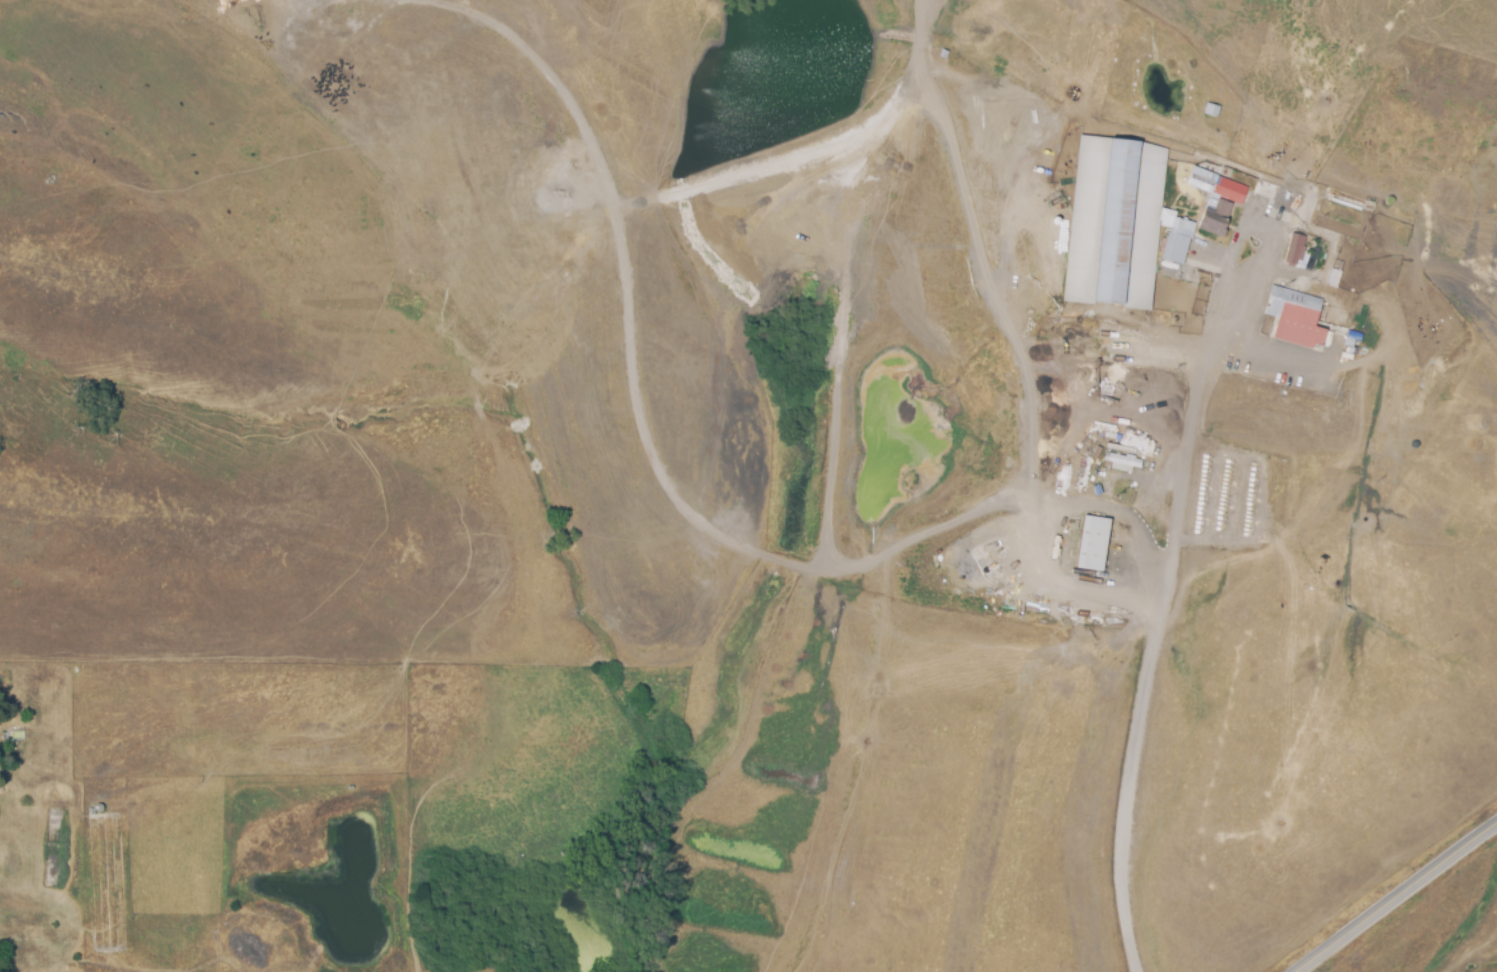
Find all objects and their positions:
building: (1211, 111)
building: (1265, 192)
building: (1221, 205)
building: (1114, 224)
building: (1175, 246)
building: (1294, 250)
building: (1336, 275)
road: (1231, 310)
building: (1295, 317)
building: (1353, 337)
road: (1263, 353)
building: (1122, 462)
building: (1111, 483)
road: (1154, 492)
road: (1075, 499)
building: (1093, 545)
road: (1061, 582)
building: (1098, 591)
building: (1106, 629)
road: (1149, 661)
road: (1396, 898)

